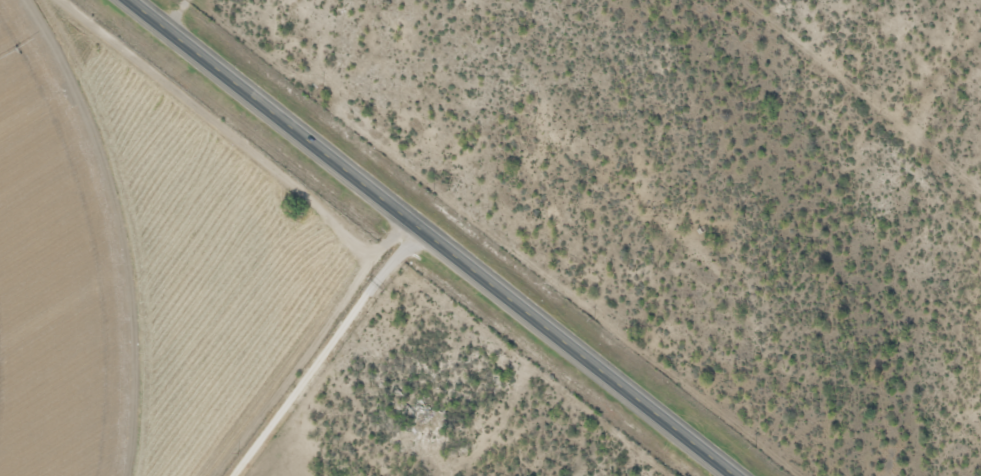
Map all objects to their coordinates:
road: (429, 238)
railway: (488, 238)

